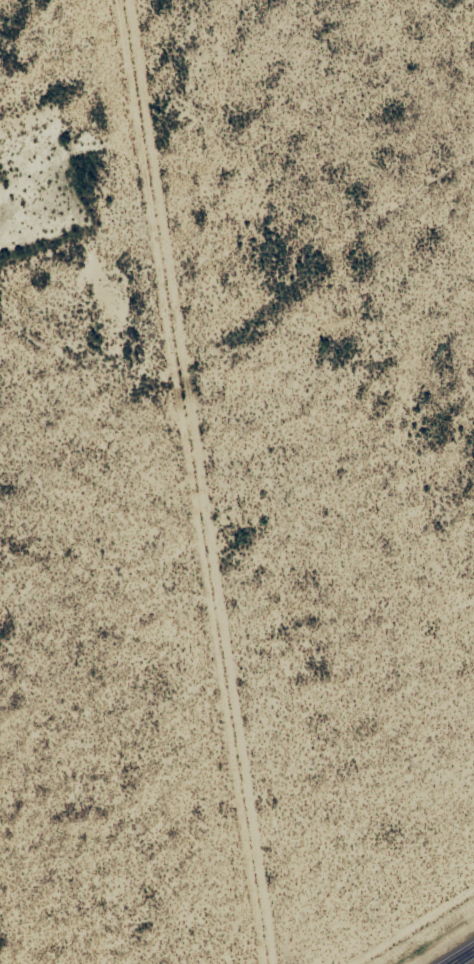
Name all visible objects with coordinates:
road: (52, 344)
road: (457, 953)

